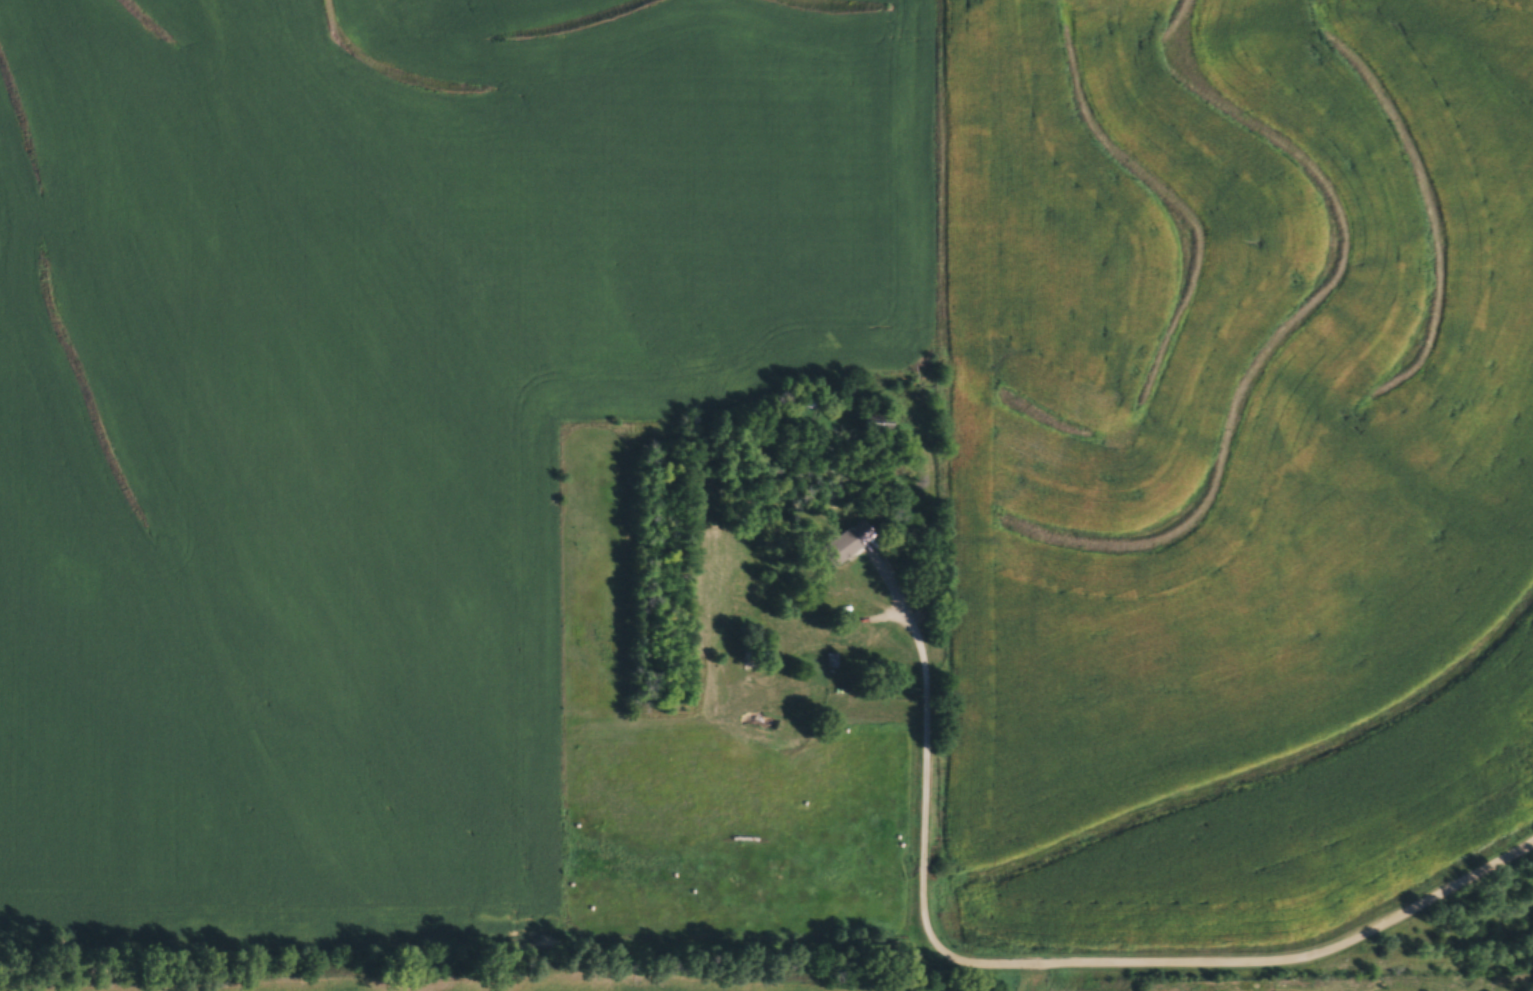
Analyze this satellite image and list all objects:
road: (1126, 956)

